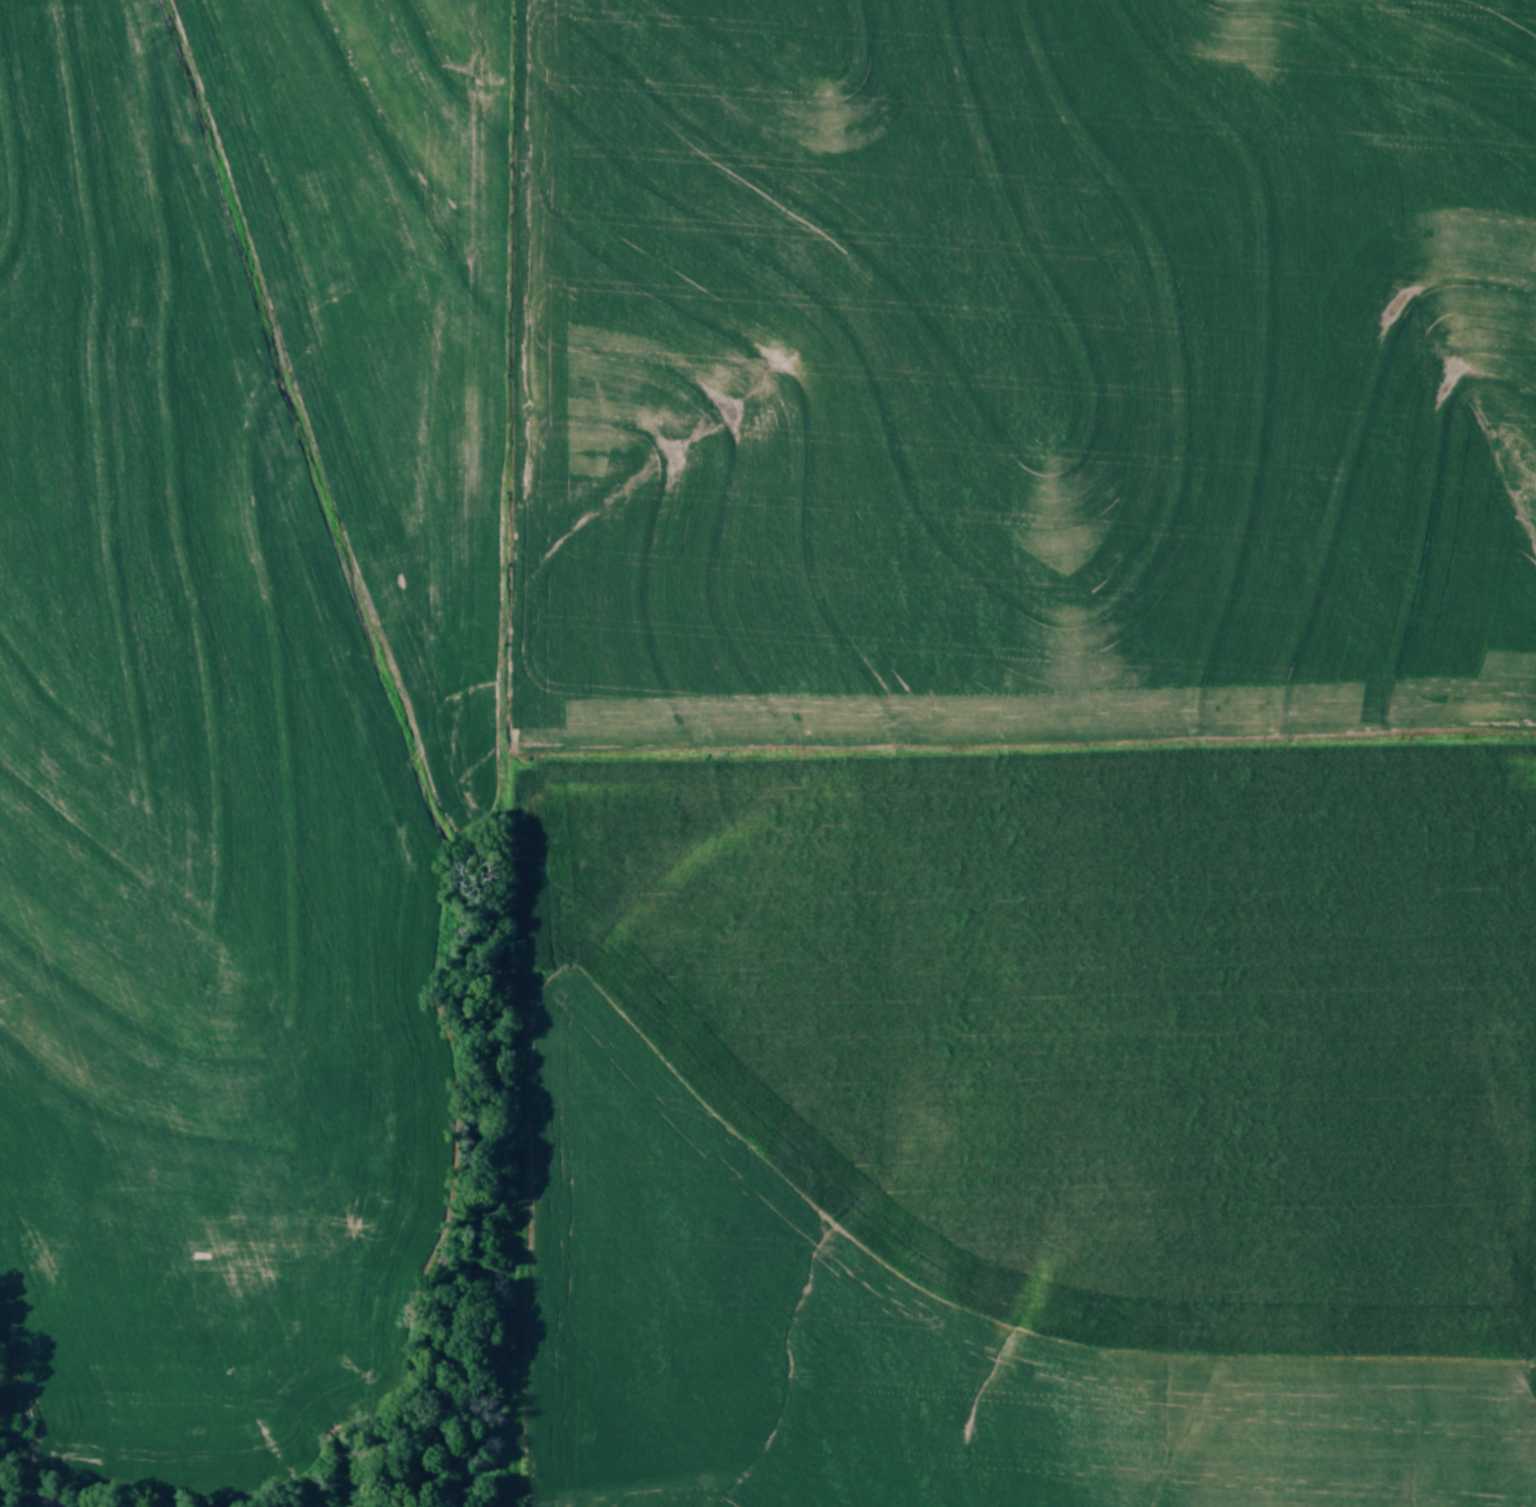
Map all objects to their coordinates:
building: (26, 1240)

